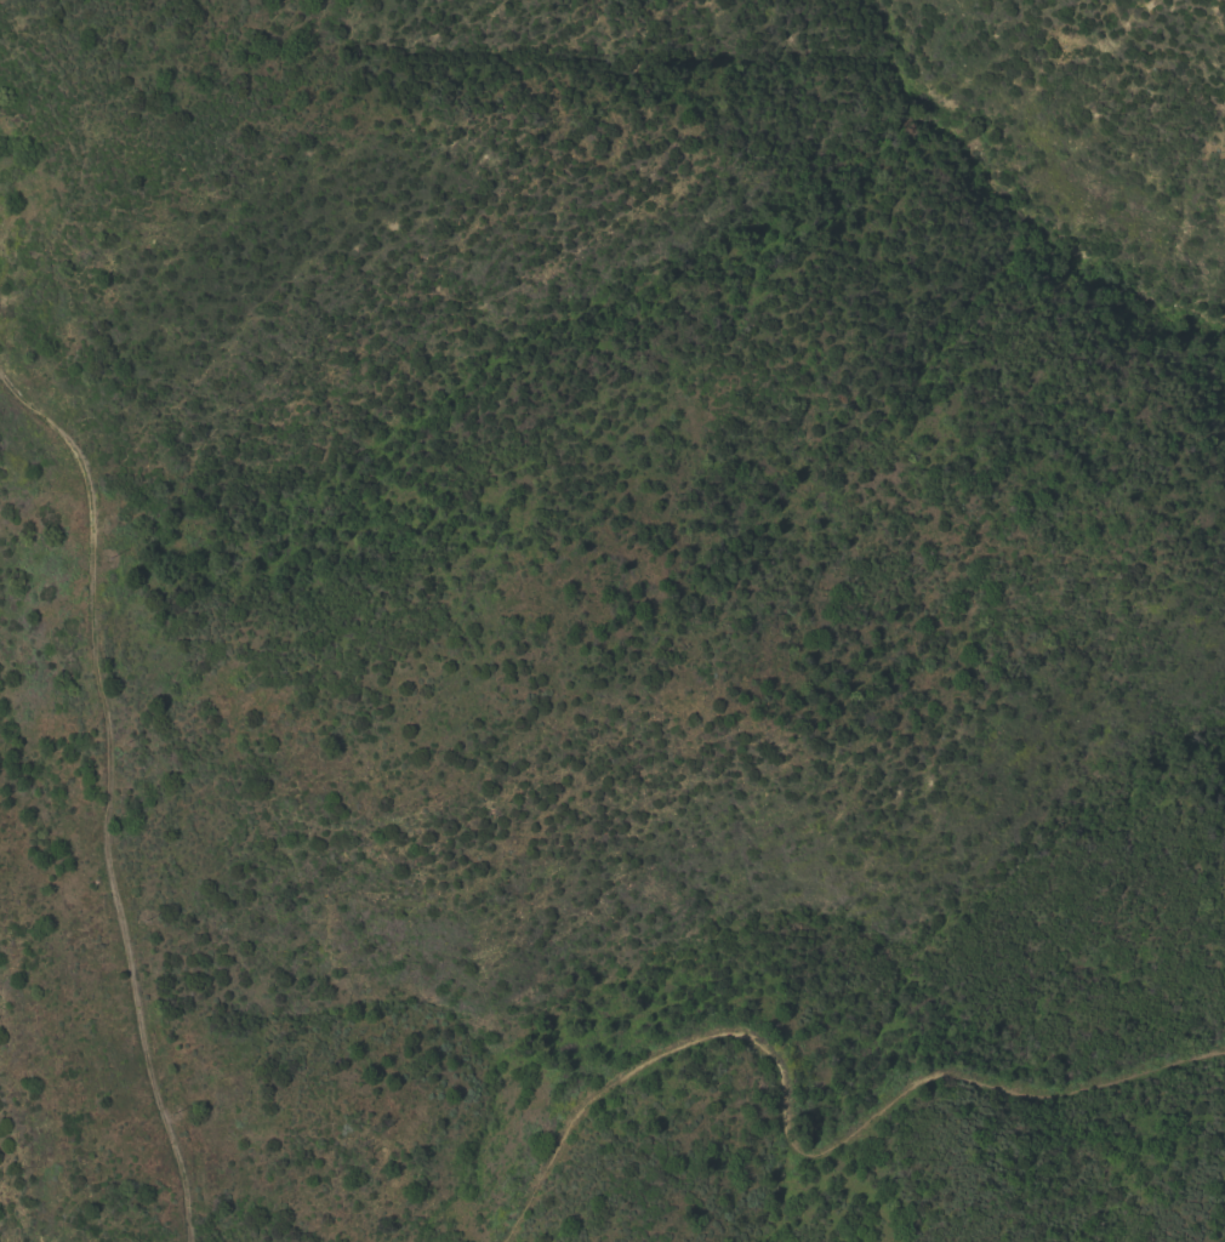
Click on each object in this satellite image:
road: (98, 801)
road: (785, 1146)

